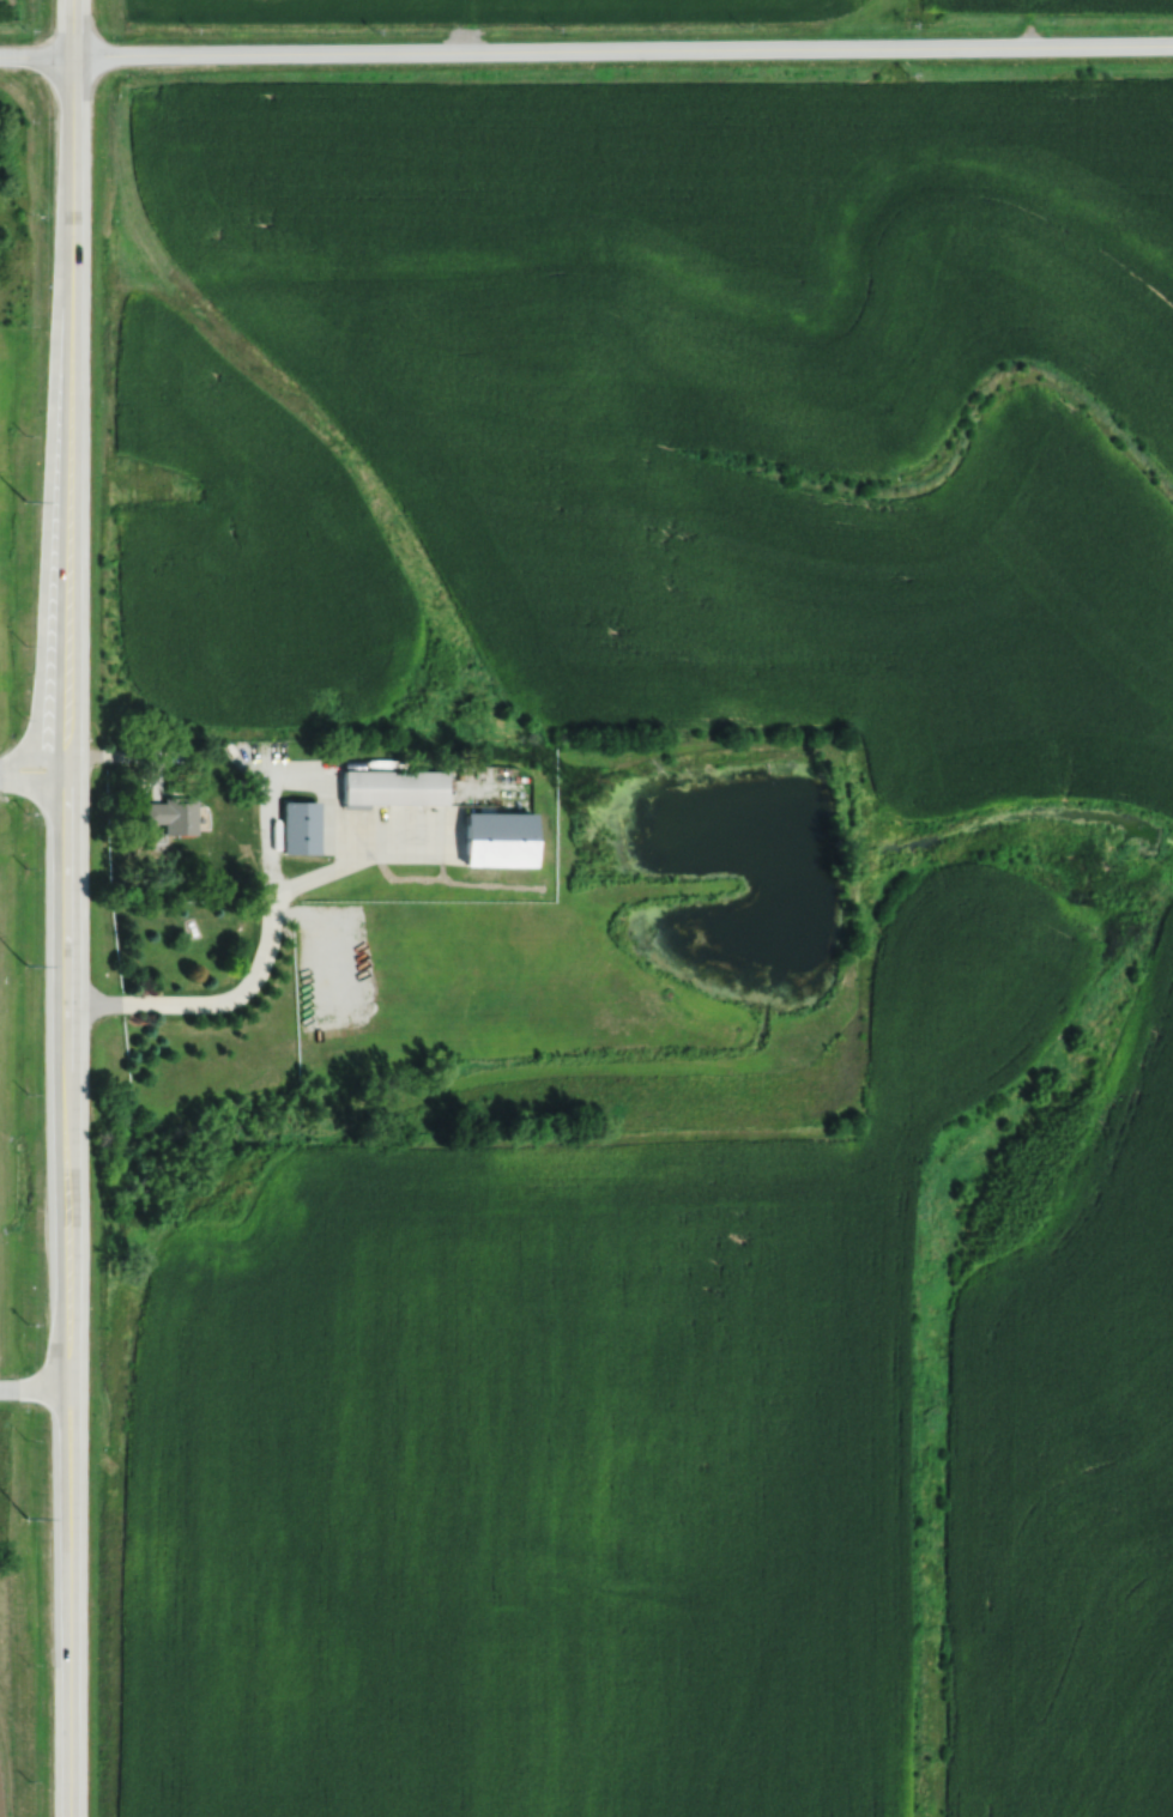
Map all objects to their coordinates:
road: (586, 50)
power tower: (23, 501)
road: (66, 692)
road: (32, 769)
building: (389, 787)
building: (171, 802)
building: (297, 822)
road: (264, 945)
power tower: (24, 964)
road: (34, 1386)
power tower: (26, 1518)
road: (68, 1600)

